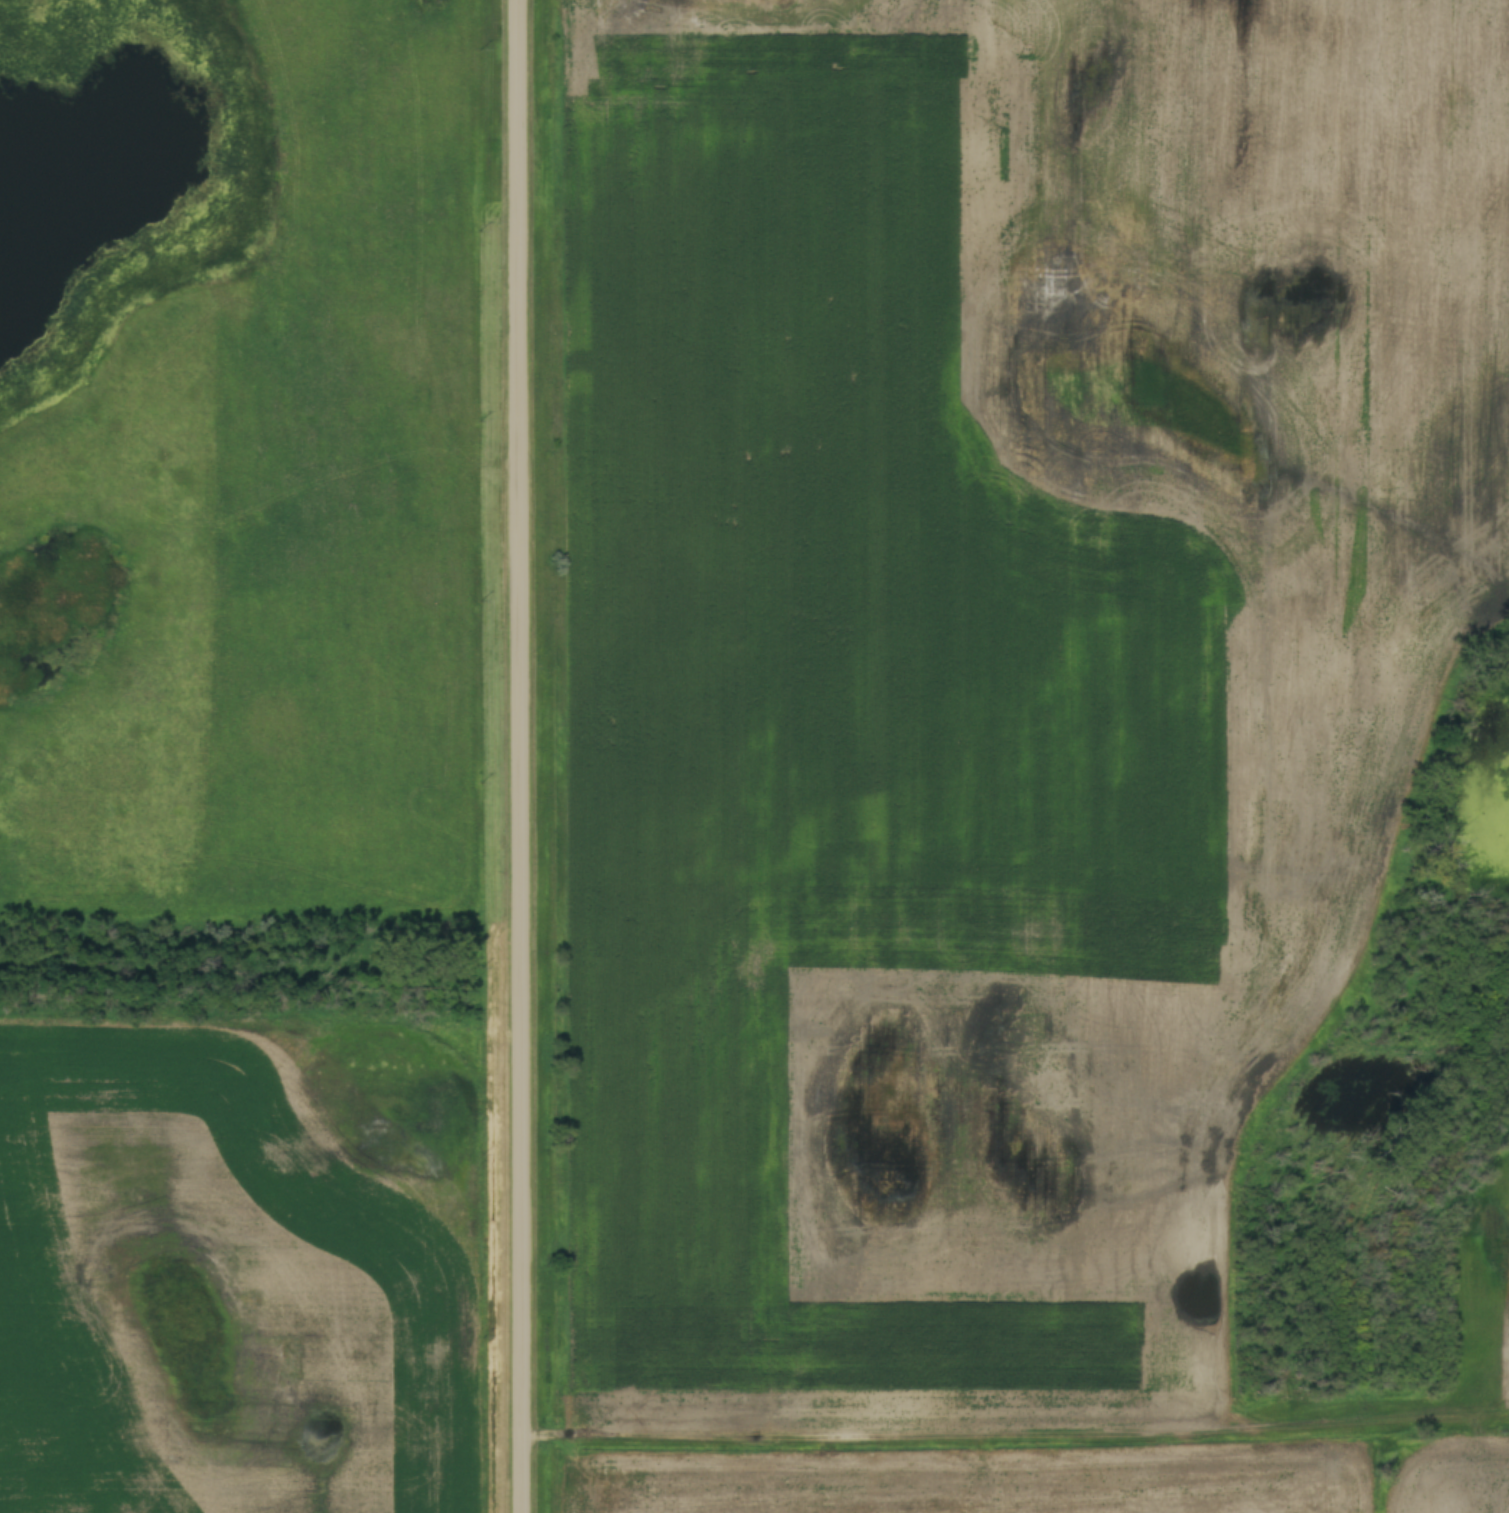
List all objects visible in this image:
road: (521, 756)

